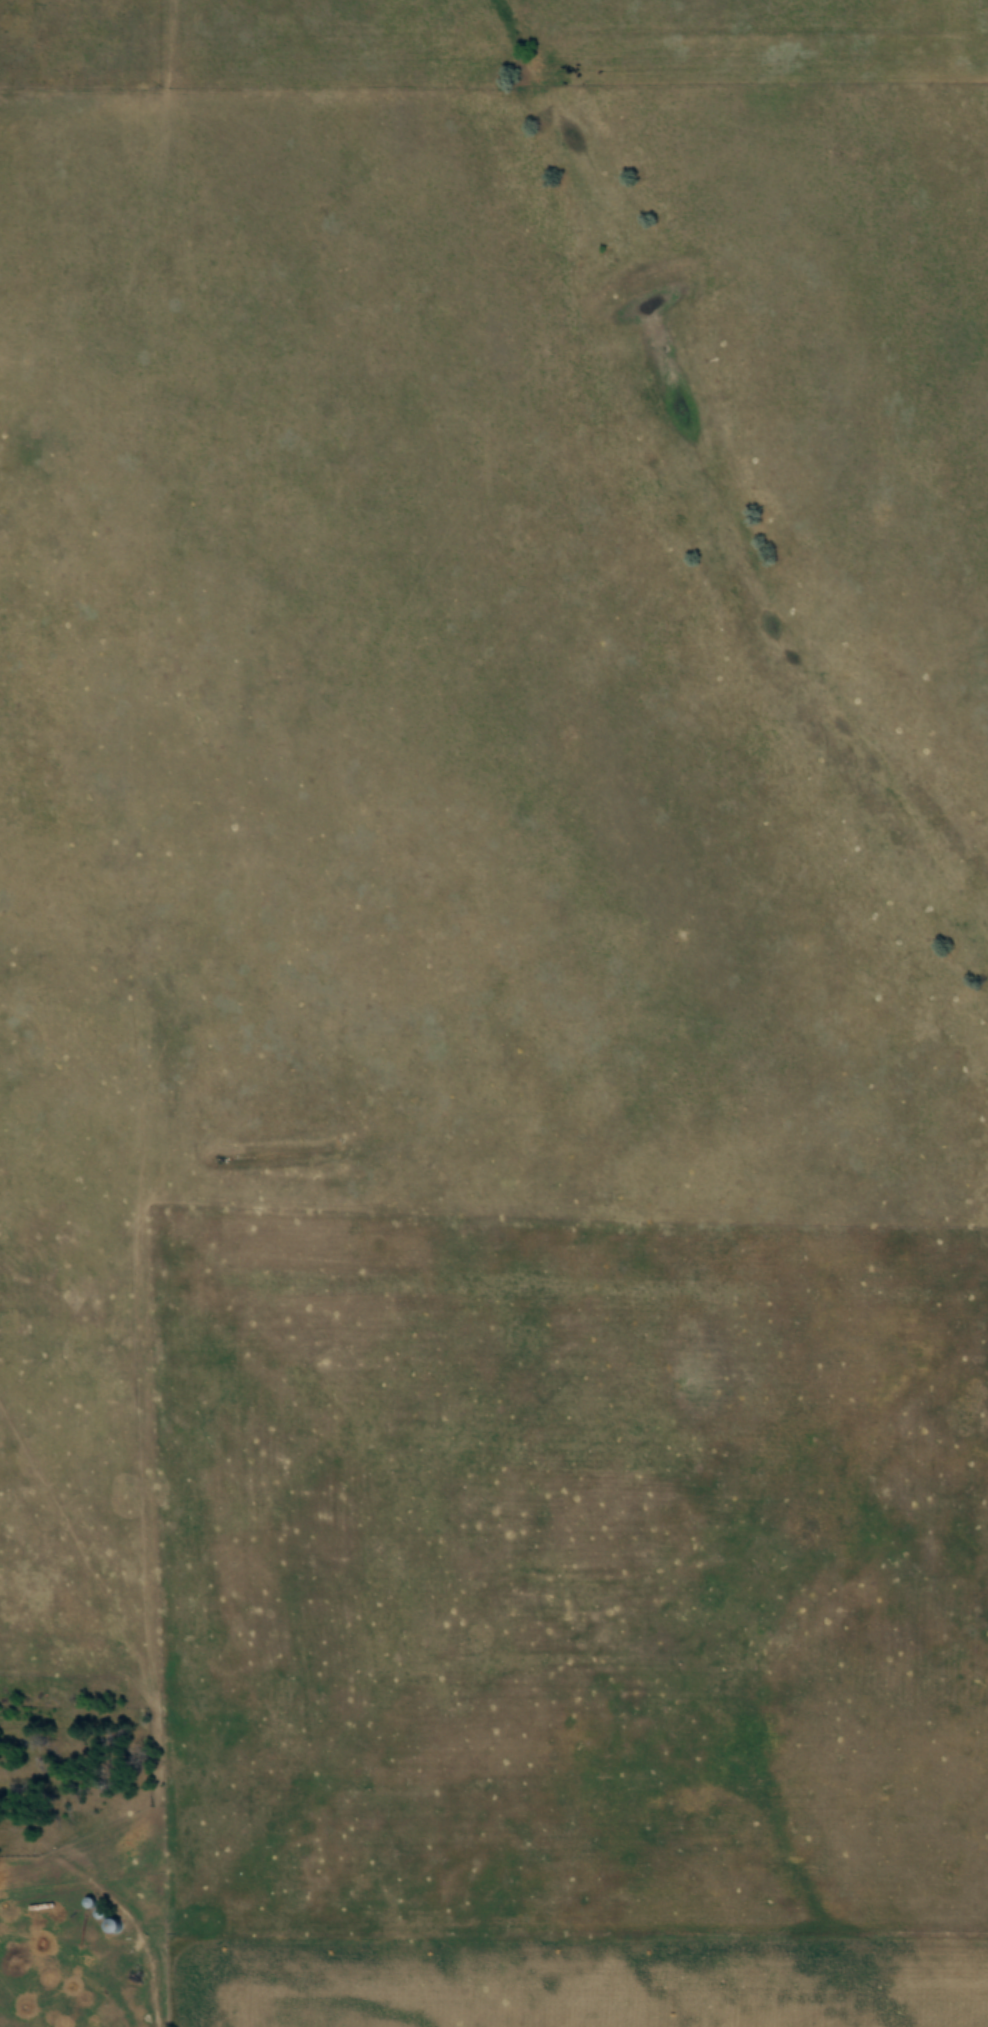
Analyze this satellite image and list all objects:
road: (159, 2005)

